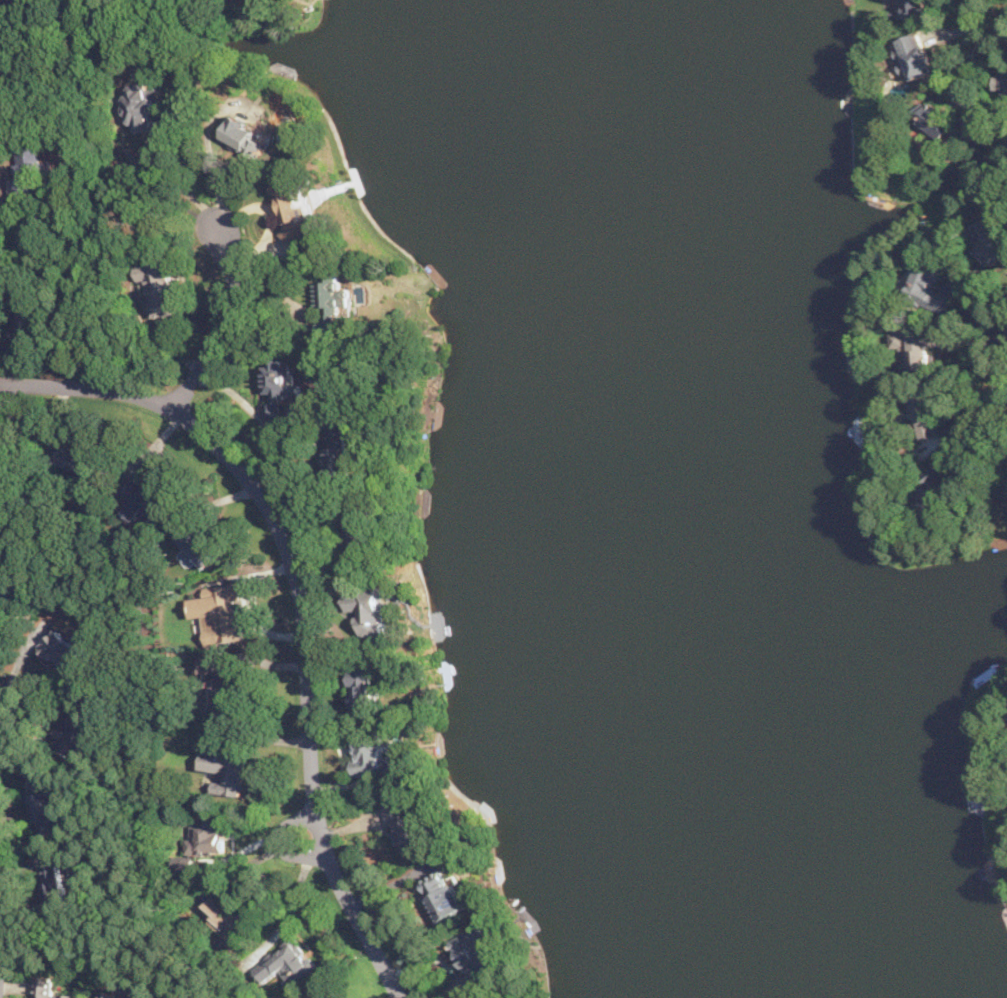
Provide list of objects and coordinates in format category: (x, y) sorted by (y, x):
building: (1, 0)
building: (916, 7)
road: (981, 27)
building: (914, 56)
building: (7, 60)
building: (1002, 79)
road: (94, 95)
building: (143, 106)
building: (947, 126)
building: (243, 134)
road: (210, 154)
building: (28, 168)
road: (173, 180)
road: (120, 183)
building: (296, 212)
building: (994, 236)
building: (31, 240)
road: (100, 282)
building: (159, 285)
building: (931, 289)
building: (331, 301)
road: (985, 302)
road: (226, 316)
building: (23, 319)
building: (913, 345)
building: (280, 386)
building: (927, 414)
road: (980, 423)
building: (7, 449)
building: (339, 450)
building: (79, 459)
building: (935, 491)
building: (144, 498)
road: (6, 529)
building: (351, 530)
building: (199, 544)
building: (8, 580)
road: (300, 601)
building: (367, 608)
building: (224, 611)
building: (62, 650)
building: (208, 665)
building: (227, 691)
building: (363, 692)
road: (3, 707)
road: (143, 728)
building: (77, 731)
building: (370, 751)
building: (228, 770)
building: (44, 806)
building: (406, 824)
building: (202, 840)
road: (278, 841)
road: (394, 881)
building: (55, 884)
building: (441, 896)
road: (291, 908)
building: (227, 918)
road: (79, 933)
building: (478, 951)
building: (286, 963)
building: (48, 990)
building: (325, 993)
building: (110, 995)
building: (129, 996)

